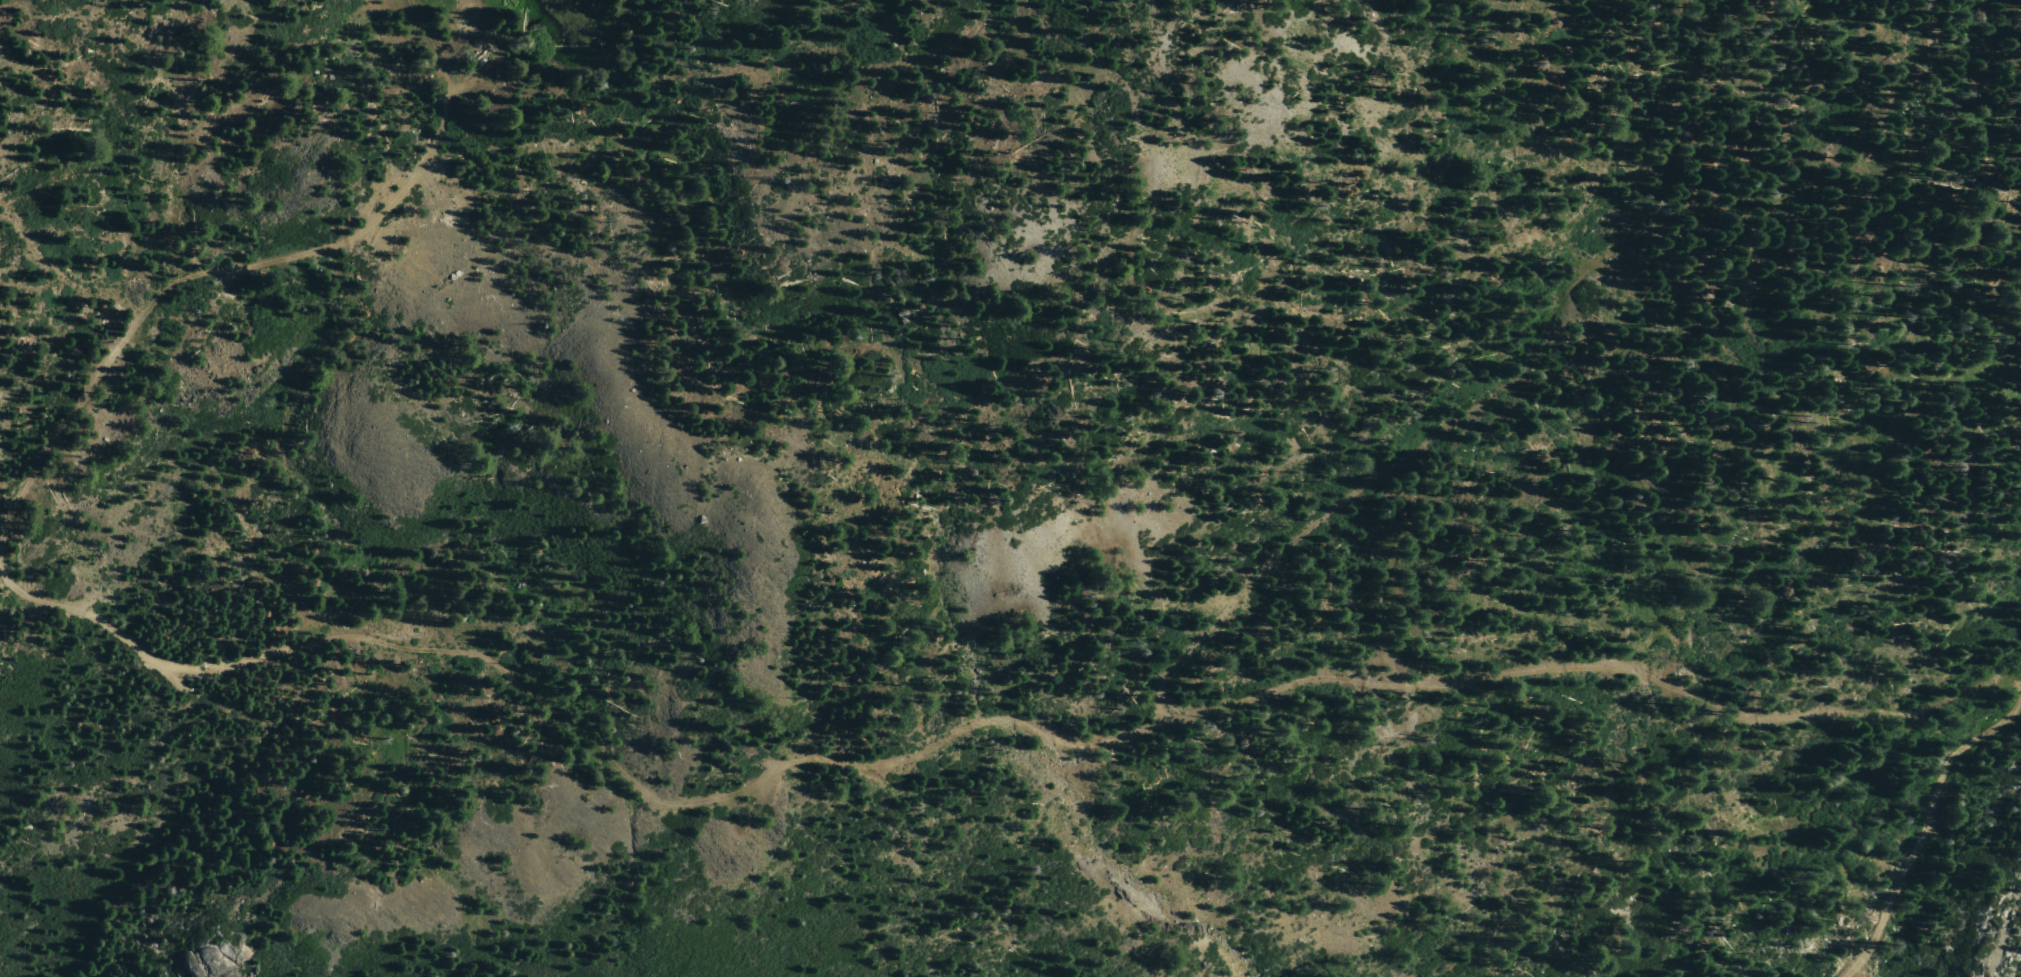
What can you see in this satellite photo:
road: (1895, 804)

